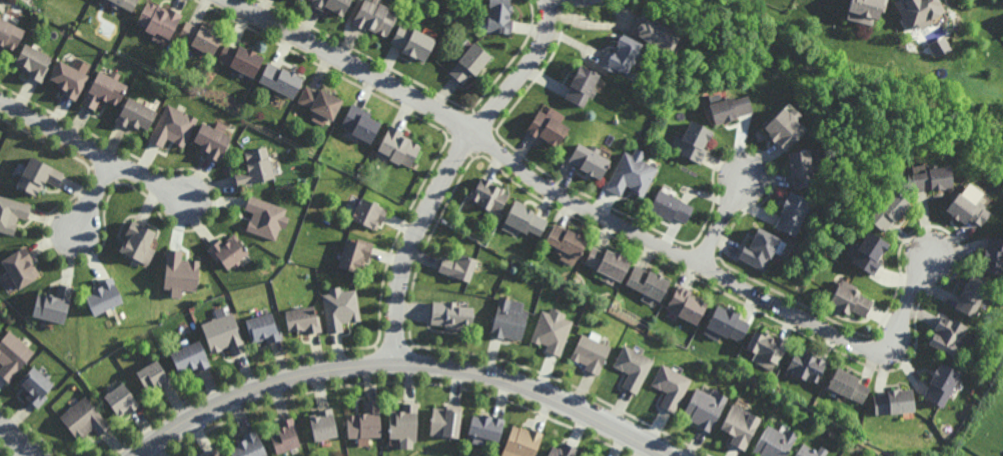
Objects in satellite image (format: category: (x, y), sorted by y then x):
building: (589, 1)
building: (123, 4)
building: (331, 5)
building: (865, 10)
building: (921, 12)
building: (499, 17)
building: (374, 18)
building: (158, 21)
building: (656, 34)
building: (9, 35)
building: (199, 38)
building: (412, 43)
building: (621, 56)
building: (240, 60)
building: (32, 63)
building: (470, 63)
building: (68, 80)
building: (280, 81)
building: (579, 87)
building: (104, 90)
building: (320, 103)
building: (727, 108)
building: (135, 116)
building: (360, 124)
building: (173, 127)
building: (783, 129)
building: (545, 130)
building: (211, 143)
building: (691, 143)
building: (398, 148)
road: (95, 154)
building: (588, 162)
building: (254, 168)
building: (802, 168)
road: (450, 170)
building: (630, 174)
building: (38, 176)
building: (927, 180)
building: (488, 195)
road: (92, 198)
building: (964, 205)
building: (668, 207)
building: (886, 209)
building: (790, 211)
building: (11, 212)
building: (368, 212)
road: (595, 213)
building: (265, 217)
building: (522, 218)
road: (722, 221)
building: (563, 239)
building: (138, 241)
building: (760, 247)
building: (866, 250)
building: (227, 251)
building: (354, 254)
building: (991, 254)
building: (606, 263)
building: (19, 266)
building: (458, 266)
building: (179, 272)
building: (7, 282)
building: (645, 282)
building: (970, 294)
building: (102, 295)
building: (849, 297)
building: (51, 303)
building: (685, 304)
building: (340, 308)
building: (452, 315)
building: (302, 319)
building: (509, 319)
building: (725, 324)
building: (263, 328)
building: (550, 329)
building: (223, 332)
building: (946, 335)
building: (767, 347)
building: (588, 352)
building: (12, 355)
building: (190, 356)
road: (408, 361)
building: (806, 365)
building: (632, 366)
building: (154, 377)
building: (667, 384)
building: (847, 384)
building: (940, 384)
building: (35, 385)
building: (121, 400)
building: (893, 401)
building: (702, 408)
building: (84, 419)
building: (364, 421)
building: (445, 421)
building: (403, 422)
building: (322, 424)
building: (739, 425)
building: (486, 426)
building: (283, 435)
road: (21, 437)
building: (521, 441)
building: (772, 442)
building: (247, 446)
building: (560, 451)
building: (809, 451)
building: (213, 453)

